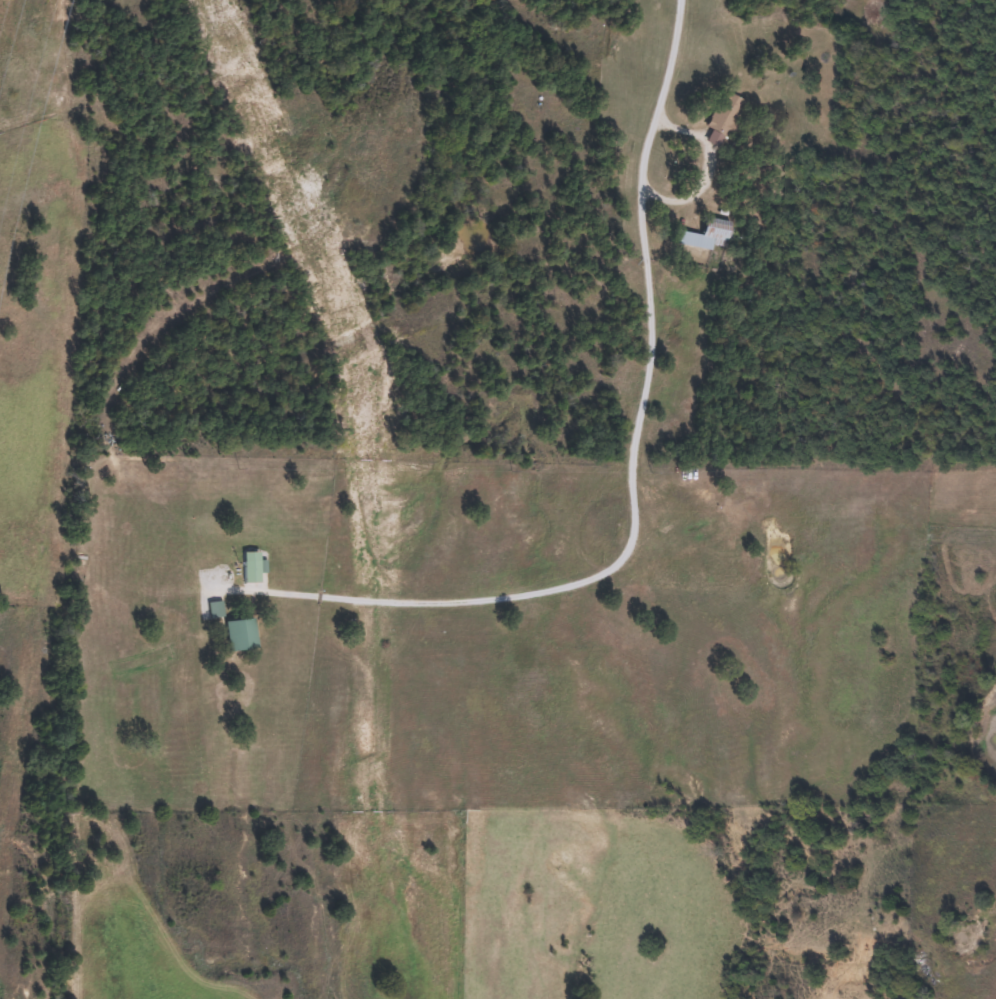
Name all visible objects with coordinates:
building: (726, 113)
road: (661, 221)
building: (706, 234)
building: (250, 567)
building: (239, 634)

